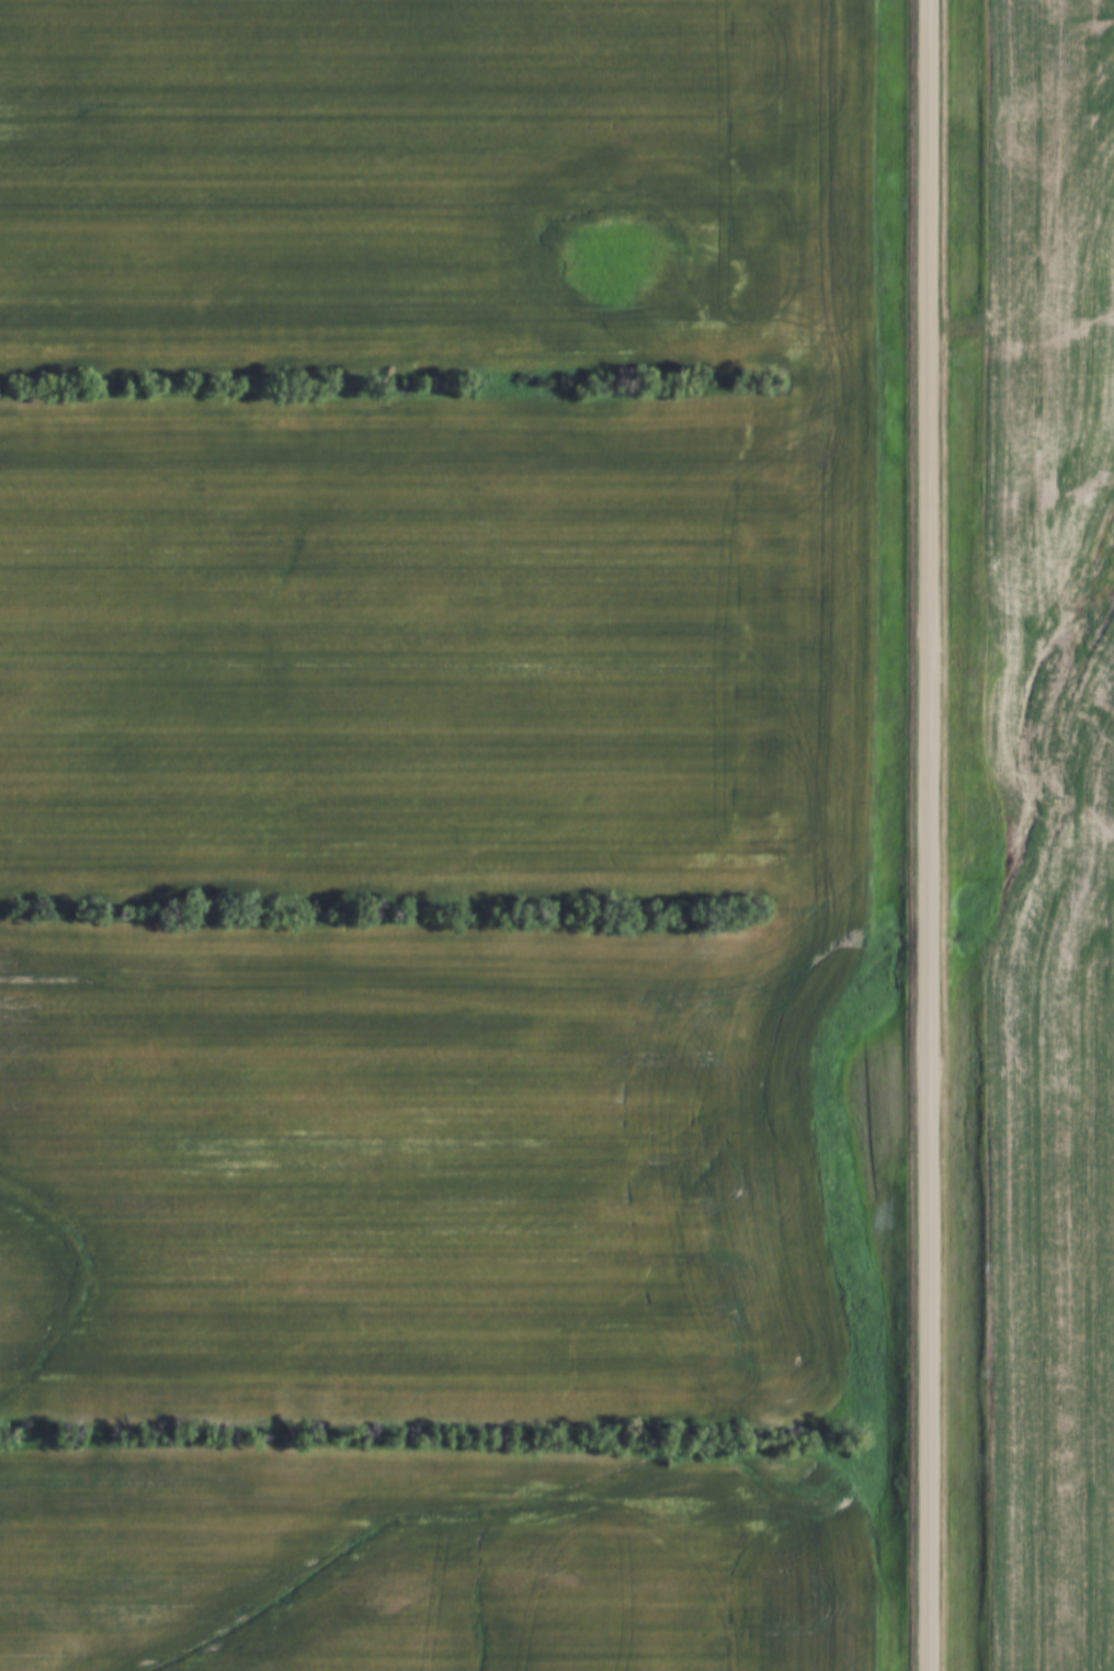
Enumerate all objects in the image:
road: (931, 834)

